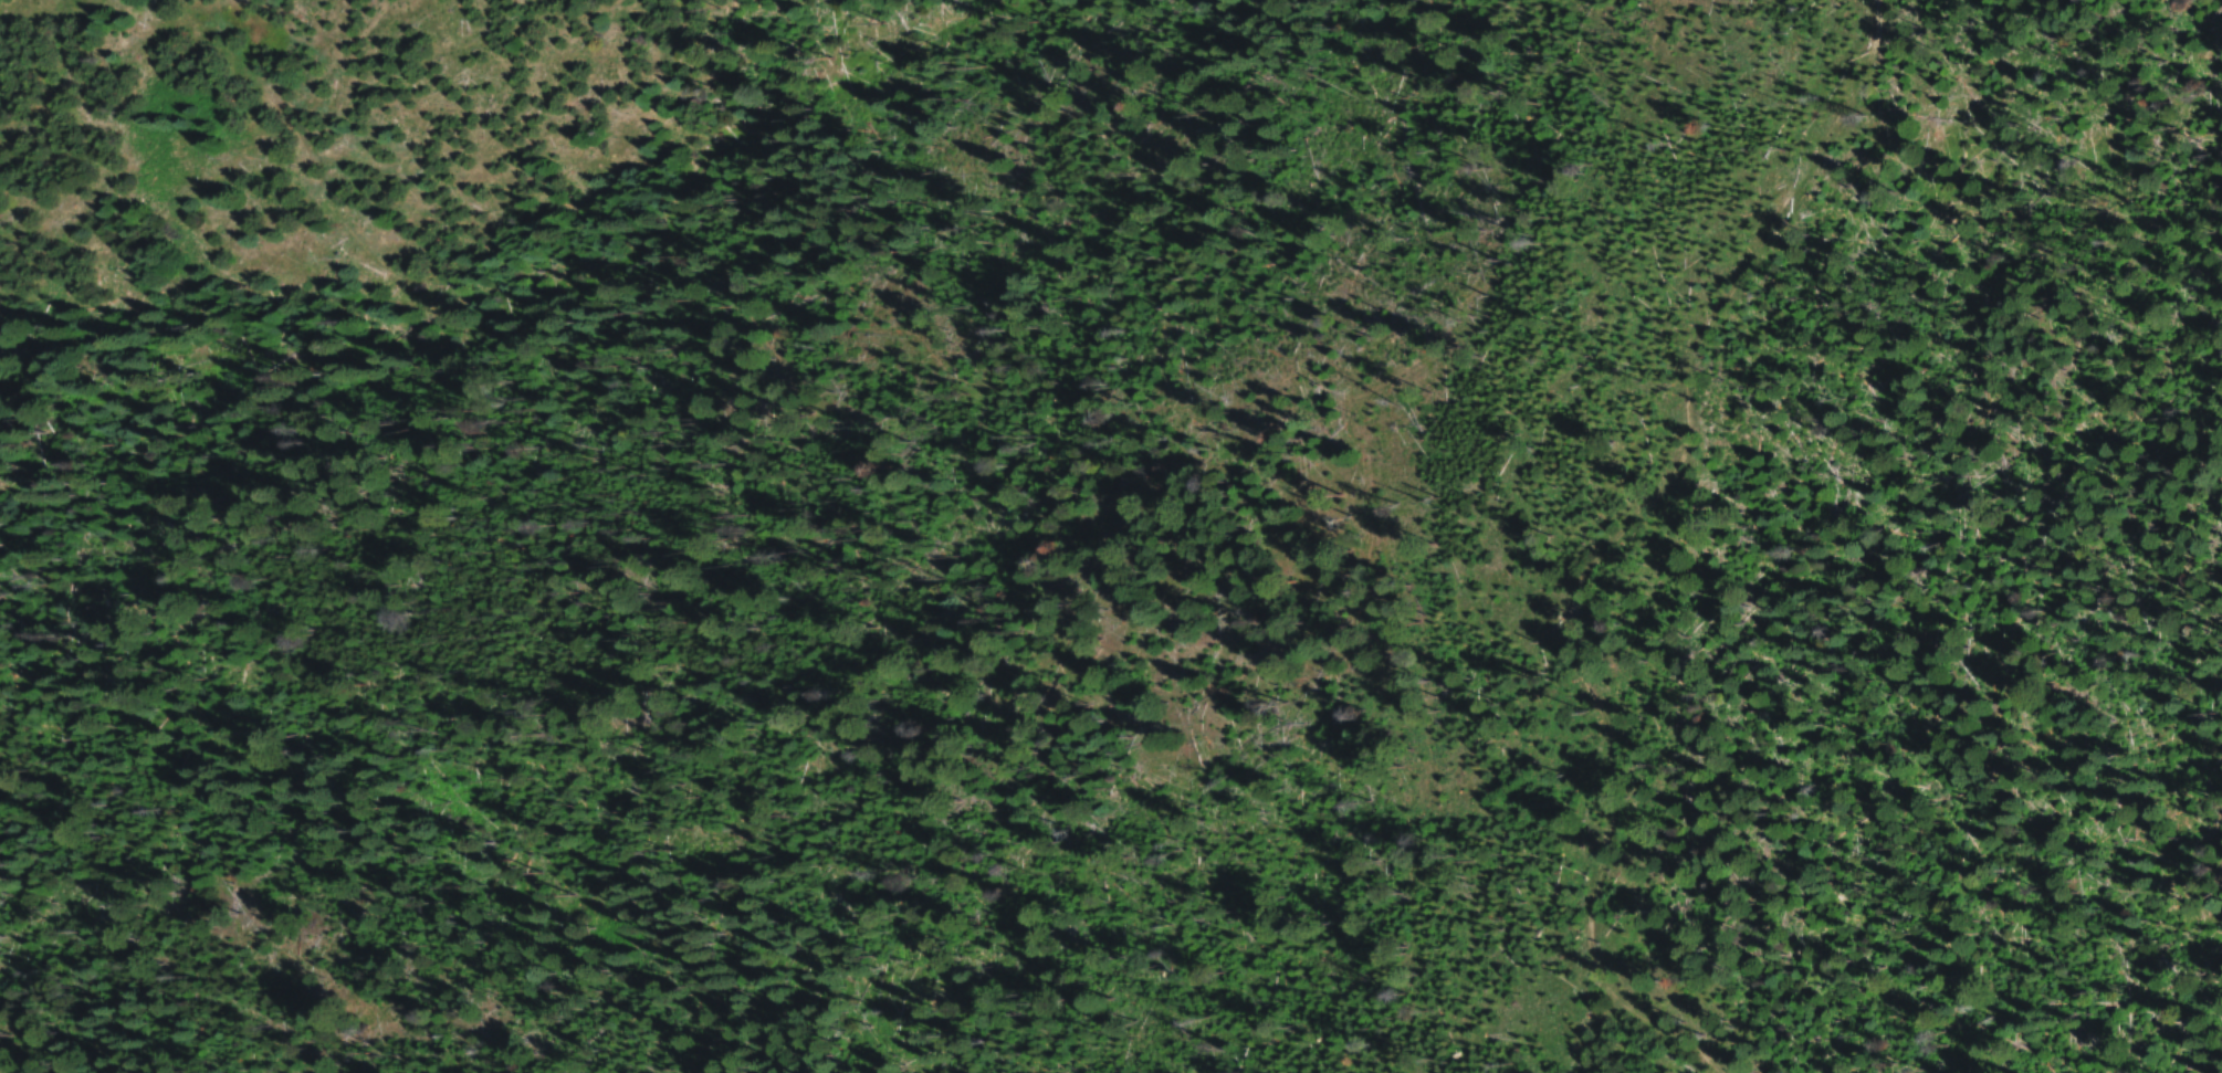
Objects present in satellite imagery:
road: (172, 1)
road: (1592, 534)

